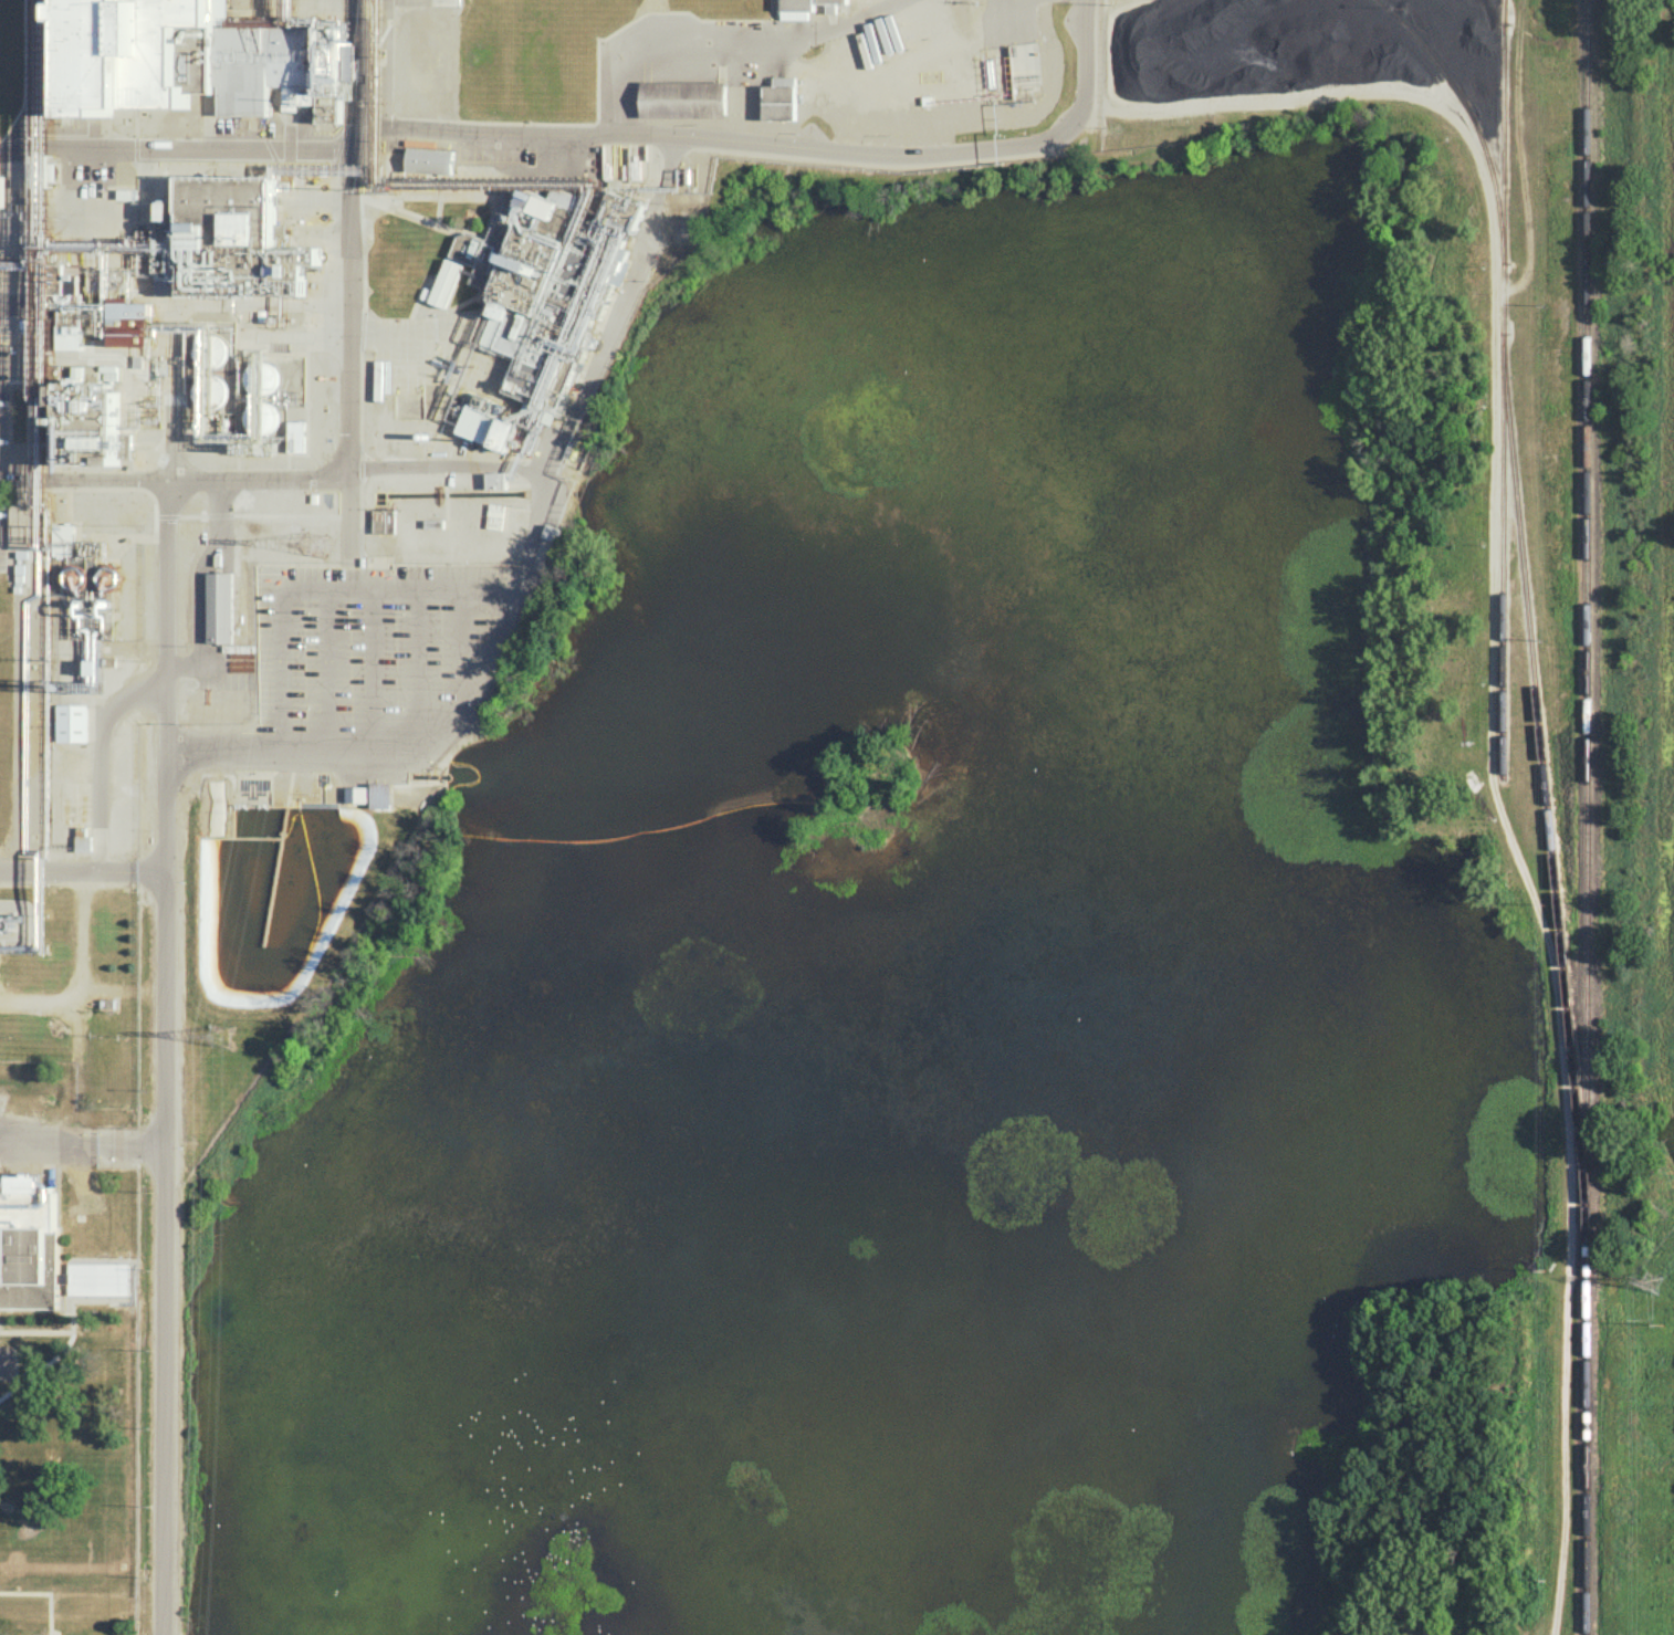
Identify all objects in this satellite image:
building: (806, 8)
road: (731, 54)
building: (199, 60)
building: (683, 98)
building: (781, 98)
railway: (1469, 113)
road: (782, 144)
road: (179, 153)
building: (430, 159)
building: (1, 190)
building: (536, 297)
building: (97, 315)
road: (351, 321)
road: (577, 401)
road: (83, 481)
building: (384, 521)
building: (62, 532)
road: (531, 532)
power tower: (317, 551)
railway: (1502, 563)
road: (199, 567)
road: (320, 590)
railway: (1525, 590)
building: (219, 607)
road: (463, 643)
road: (327, 669)
road: (368, 670)
road: (417, 670)
road: (111, 714)
building: (72, 722)
road: (388, 748)
building: (381, 795)
railway: (1586, 817)
road: (82, 860)
power tower: (219, 1034)
road: (164, 1057)
road: (82, 1141)
building: (27, 1246)
building: (96, 1278)
power tower: (1651, 1285)

